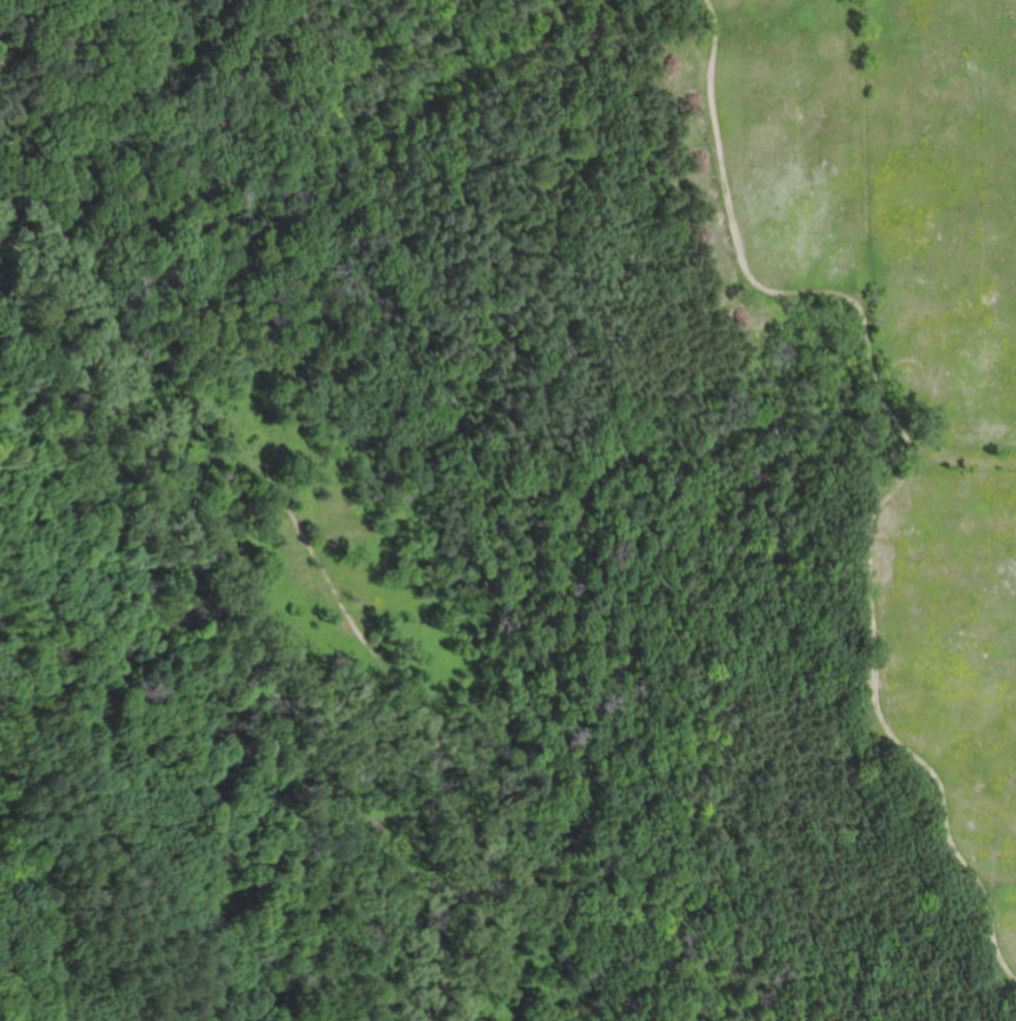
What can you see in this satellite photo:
road: (23, 33)
road: (872, 456)
park: (508, 510)
road: (317, 570)
road: (77, 932)

